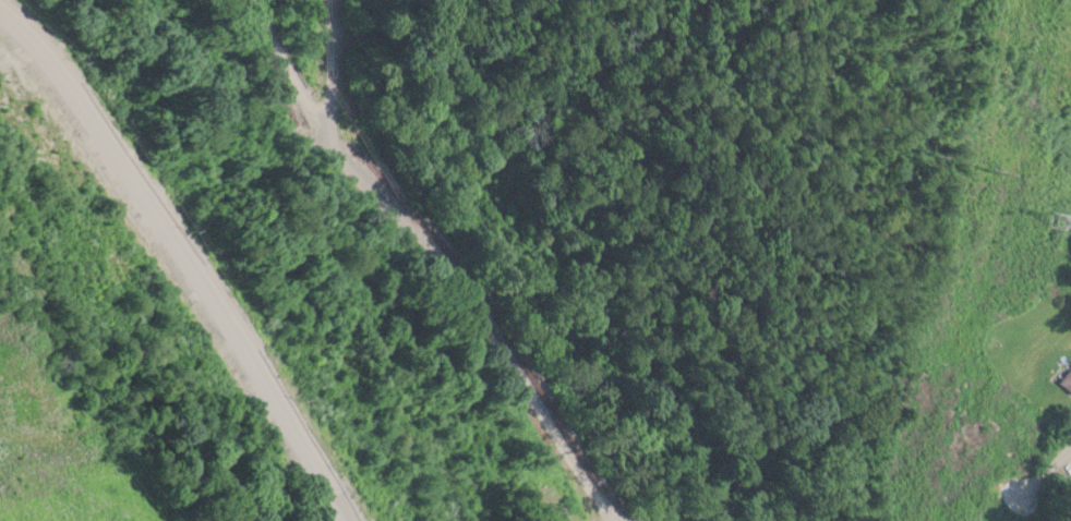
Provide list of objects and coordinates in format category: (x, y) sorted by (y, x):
power tower: (1056, 214)
building: (1064, 379)

